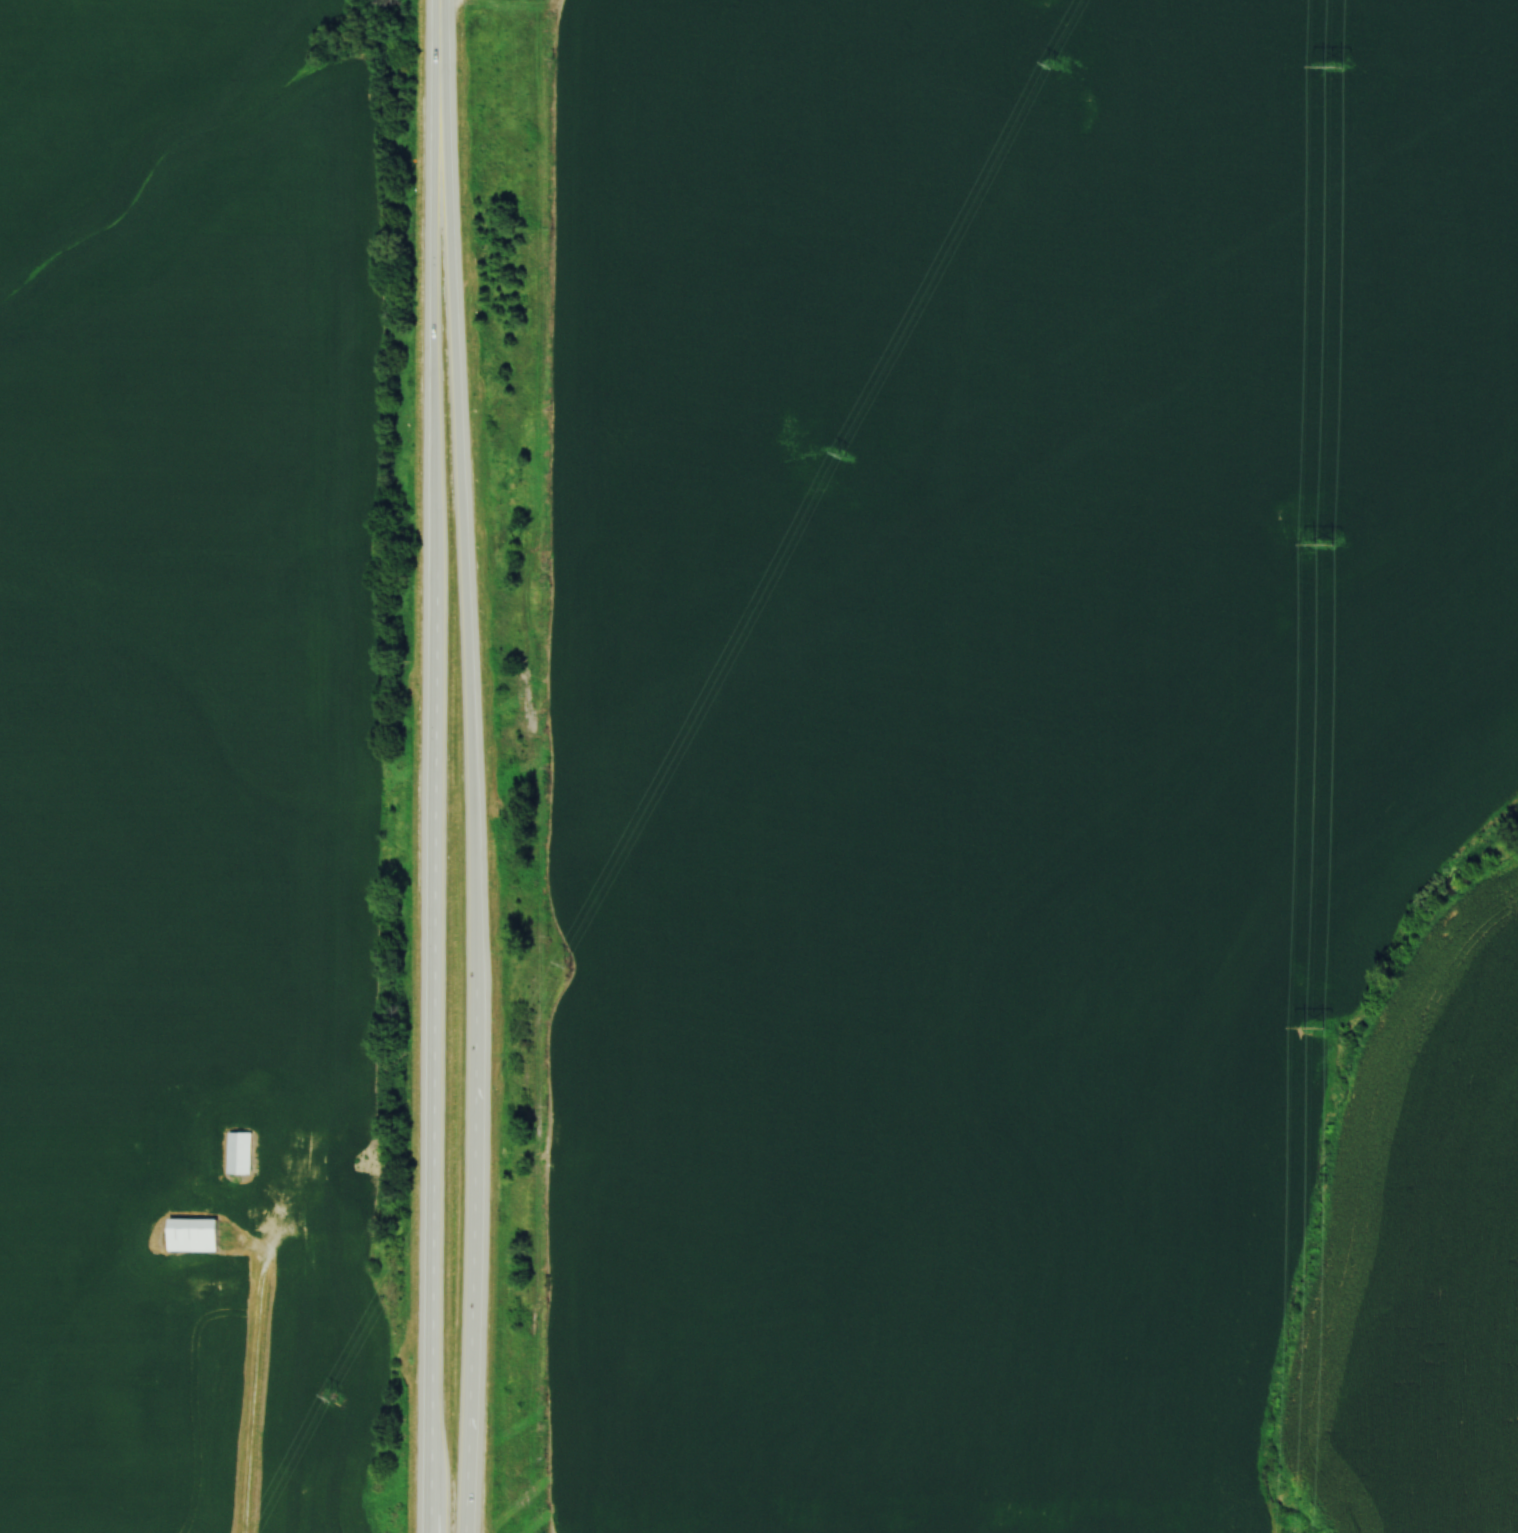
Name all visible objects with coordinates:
road: (439, 16)
power tower: (1336, 67)
power tower: (1052, 68)
road: (437, 341)
power tower: (844, 457)
power tower: (1329, 544)
road: (465, 565)
power tower: (569, 964)
power tower: (1318, 1027)
road: (432, 1091)
building: (241, 1152)
building: (195, 1236)
road: (470, 1315)
power tower: (335, 1400)
road: (250, 1406)

